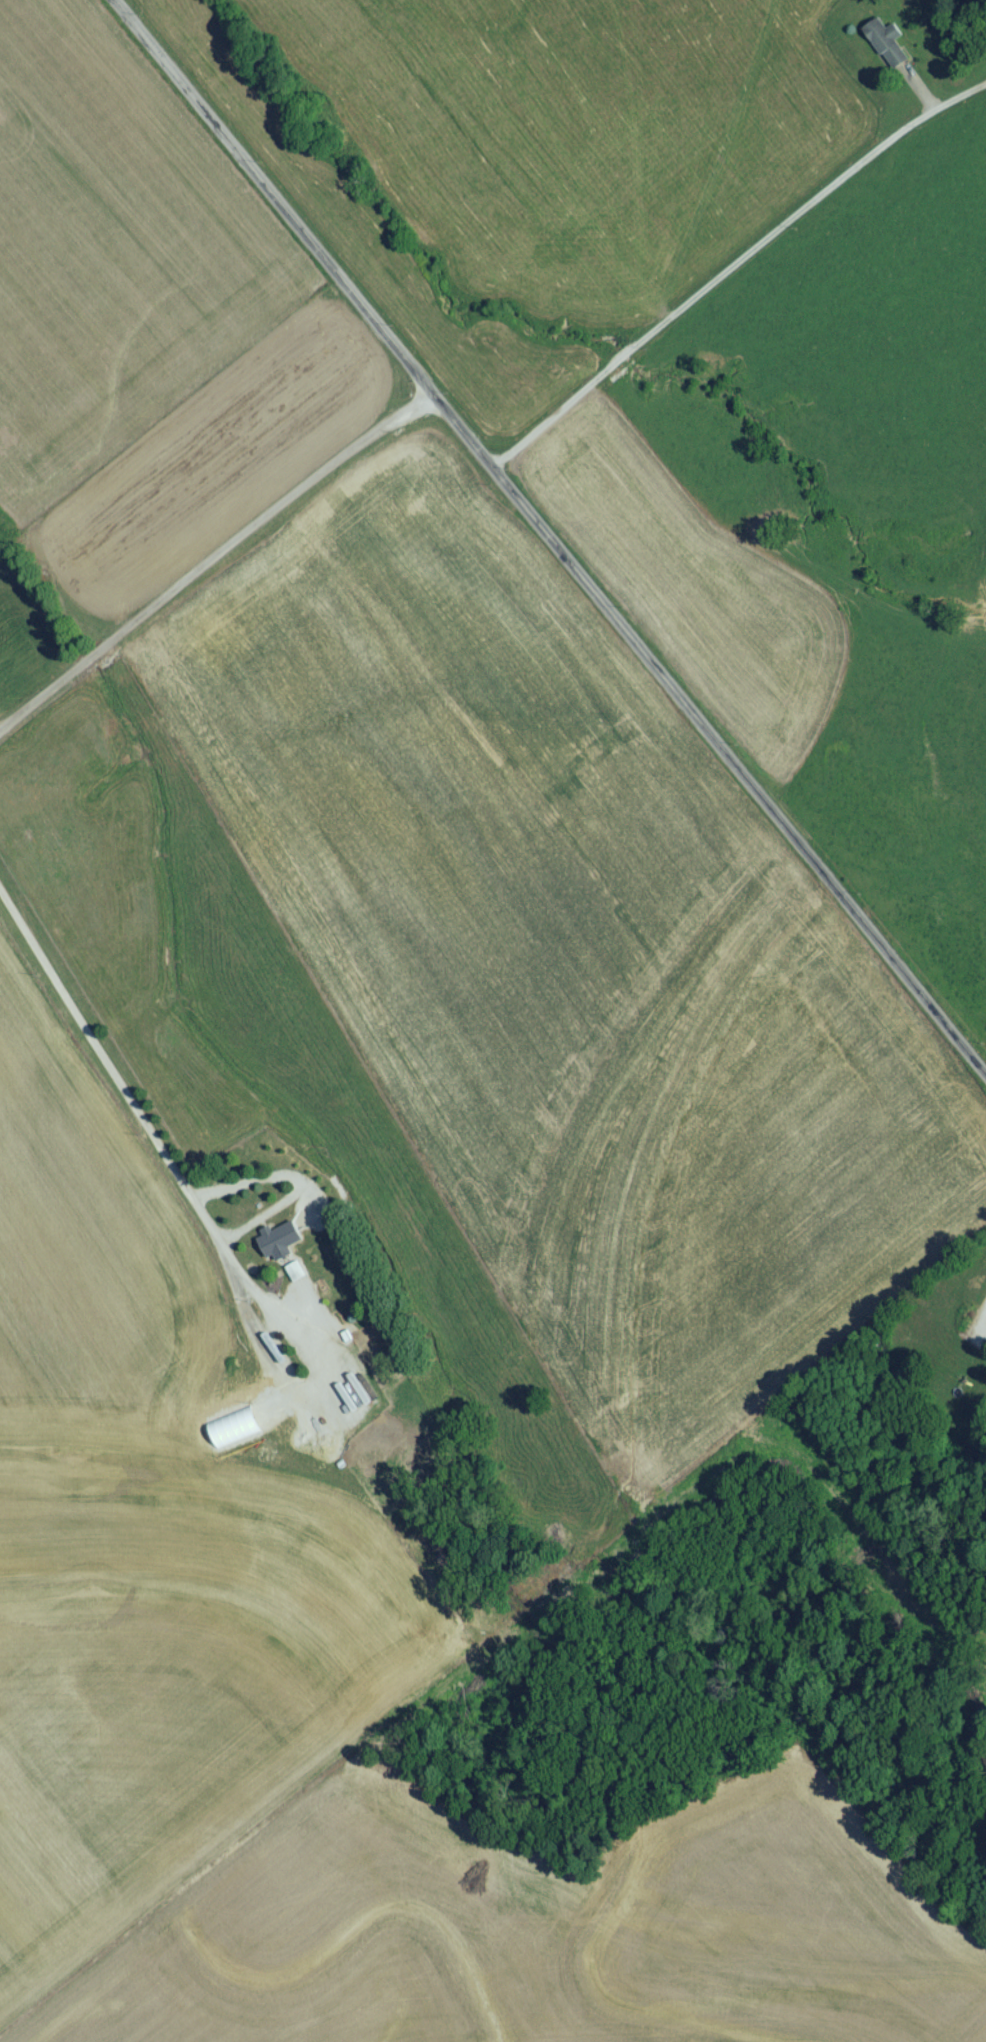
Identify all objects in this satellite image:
building: (887, 49)
road: (740, 269)
road: (554, 533)
road: (220, 563)
road: (108, 1068)
building: (272, 1254)
building: (294, 1276)
building: (360, 1403)

